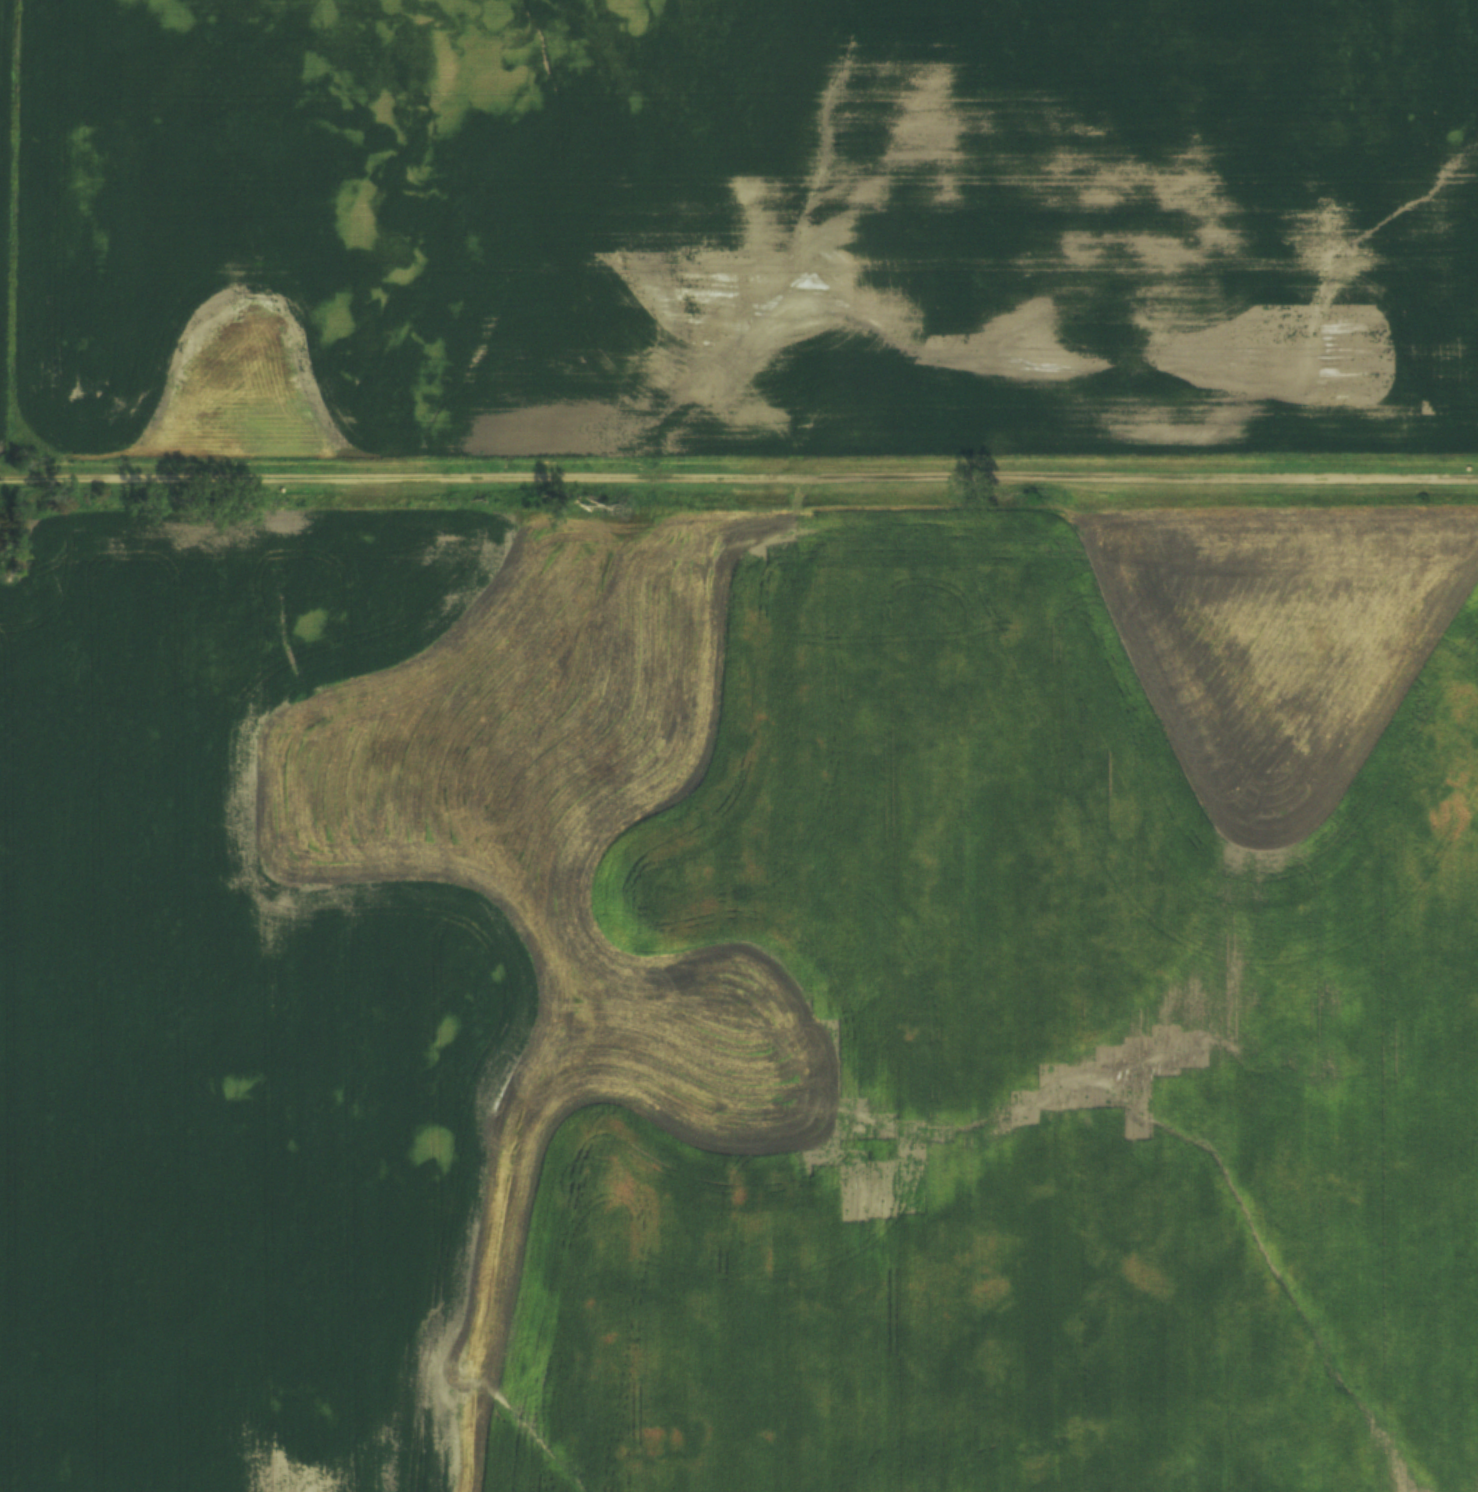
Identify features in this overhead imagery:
road: (739, 479)

